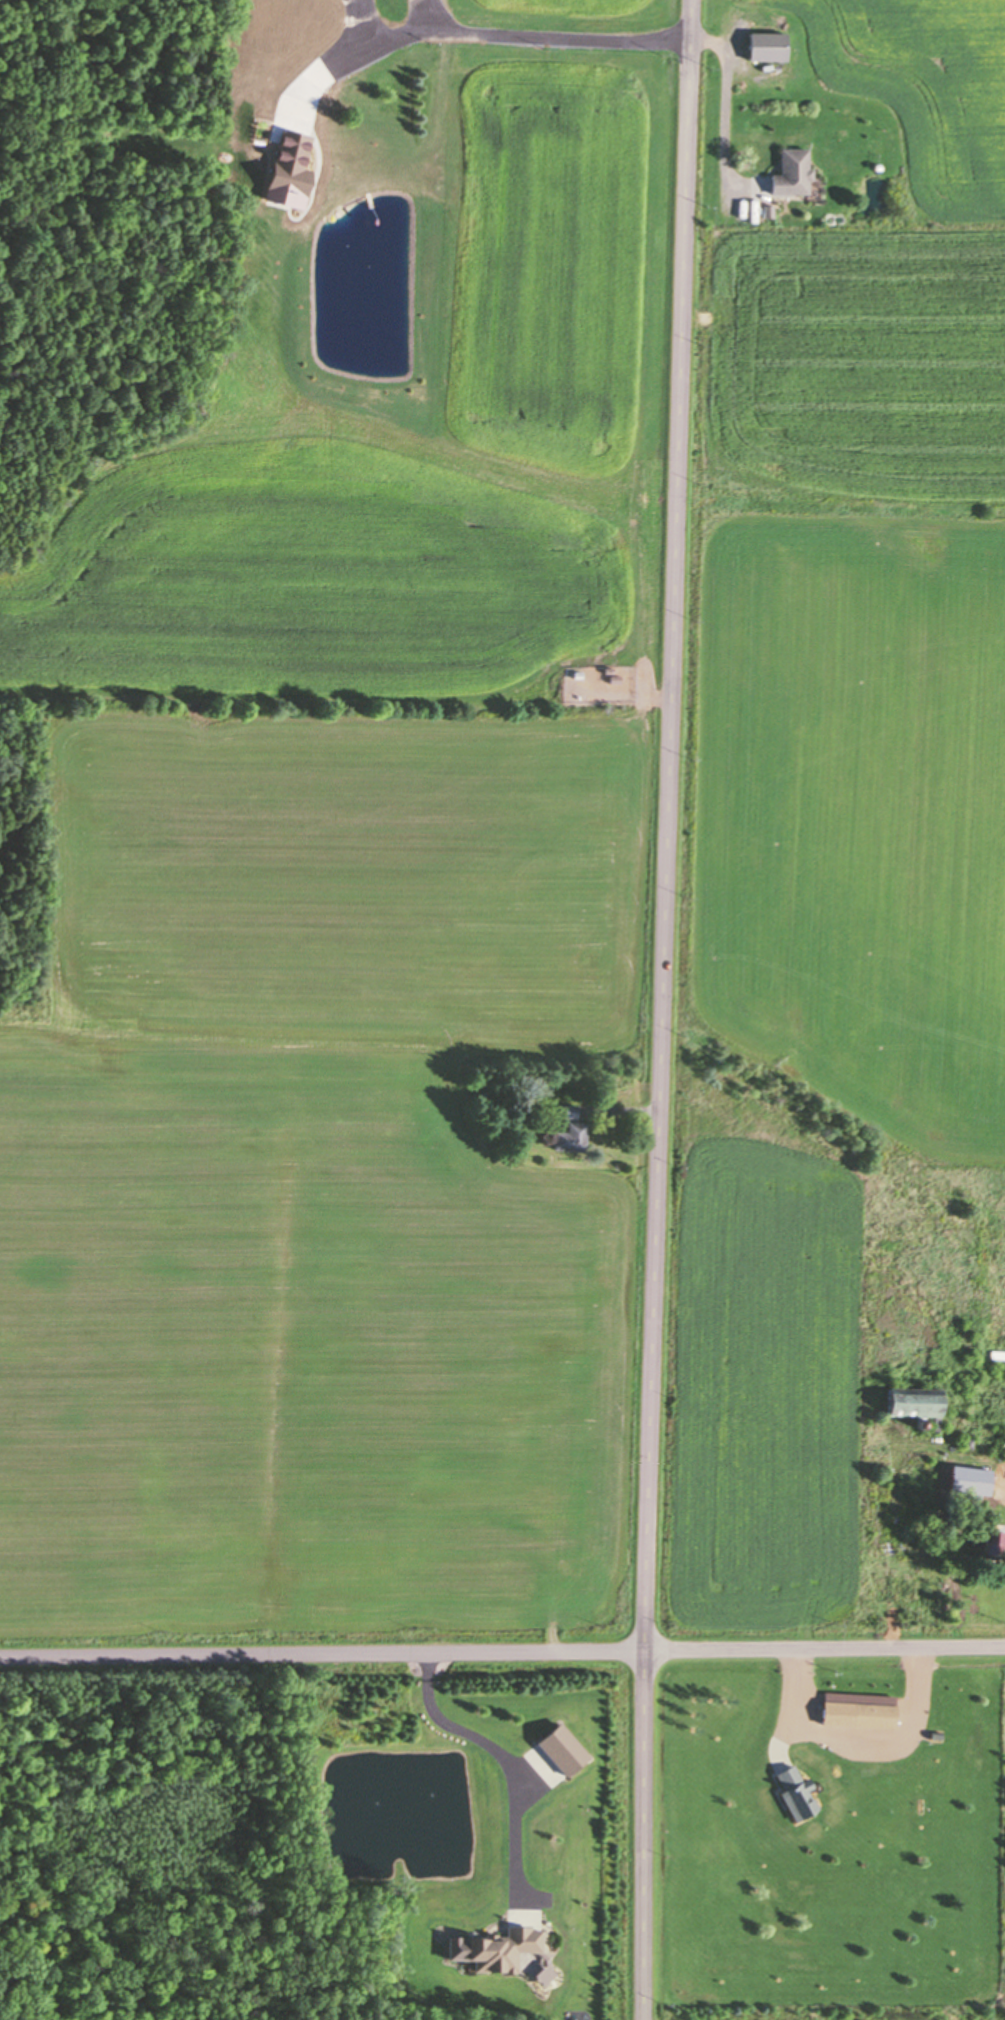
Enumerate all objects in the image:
building: (328, 11)
building: (761, 44)
building: (300, 96)
building: (787, 171)
road: (663, 1009)
building: (568, 1128)
building: (907, 1403)
building: (886, 1515)
building: (990, 1539)
road: (502, 1647)
building: (868, 1716)
building: (790, 1791)

